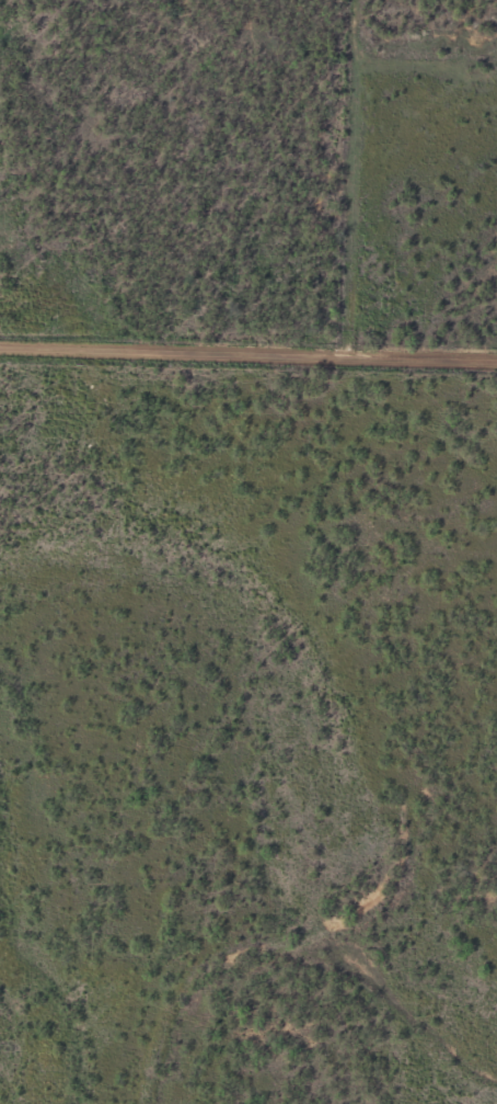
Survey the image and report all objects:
road: (248, 351)

